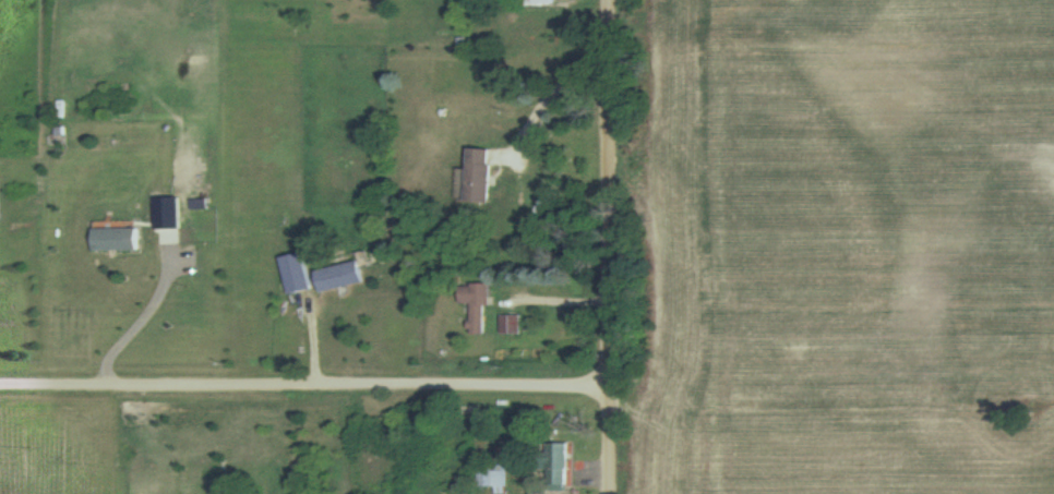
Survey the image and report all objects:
building: (538, 2)
building: (478, 177)
building: (116, 238)
road: (612, 246)
building: (337, 278)
road: (555, 299)
road: (149, 308)
building: (479, 309)
building: (505, 327)
road: (306, 385)
building: (555, 466)
building: (489, 478)

